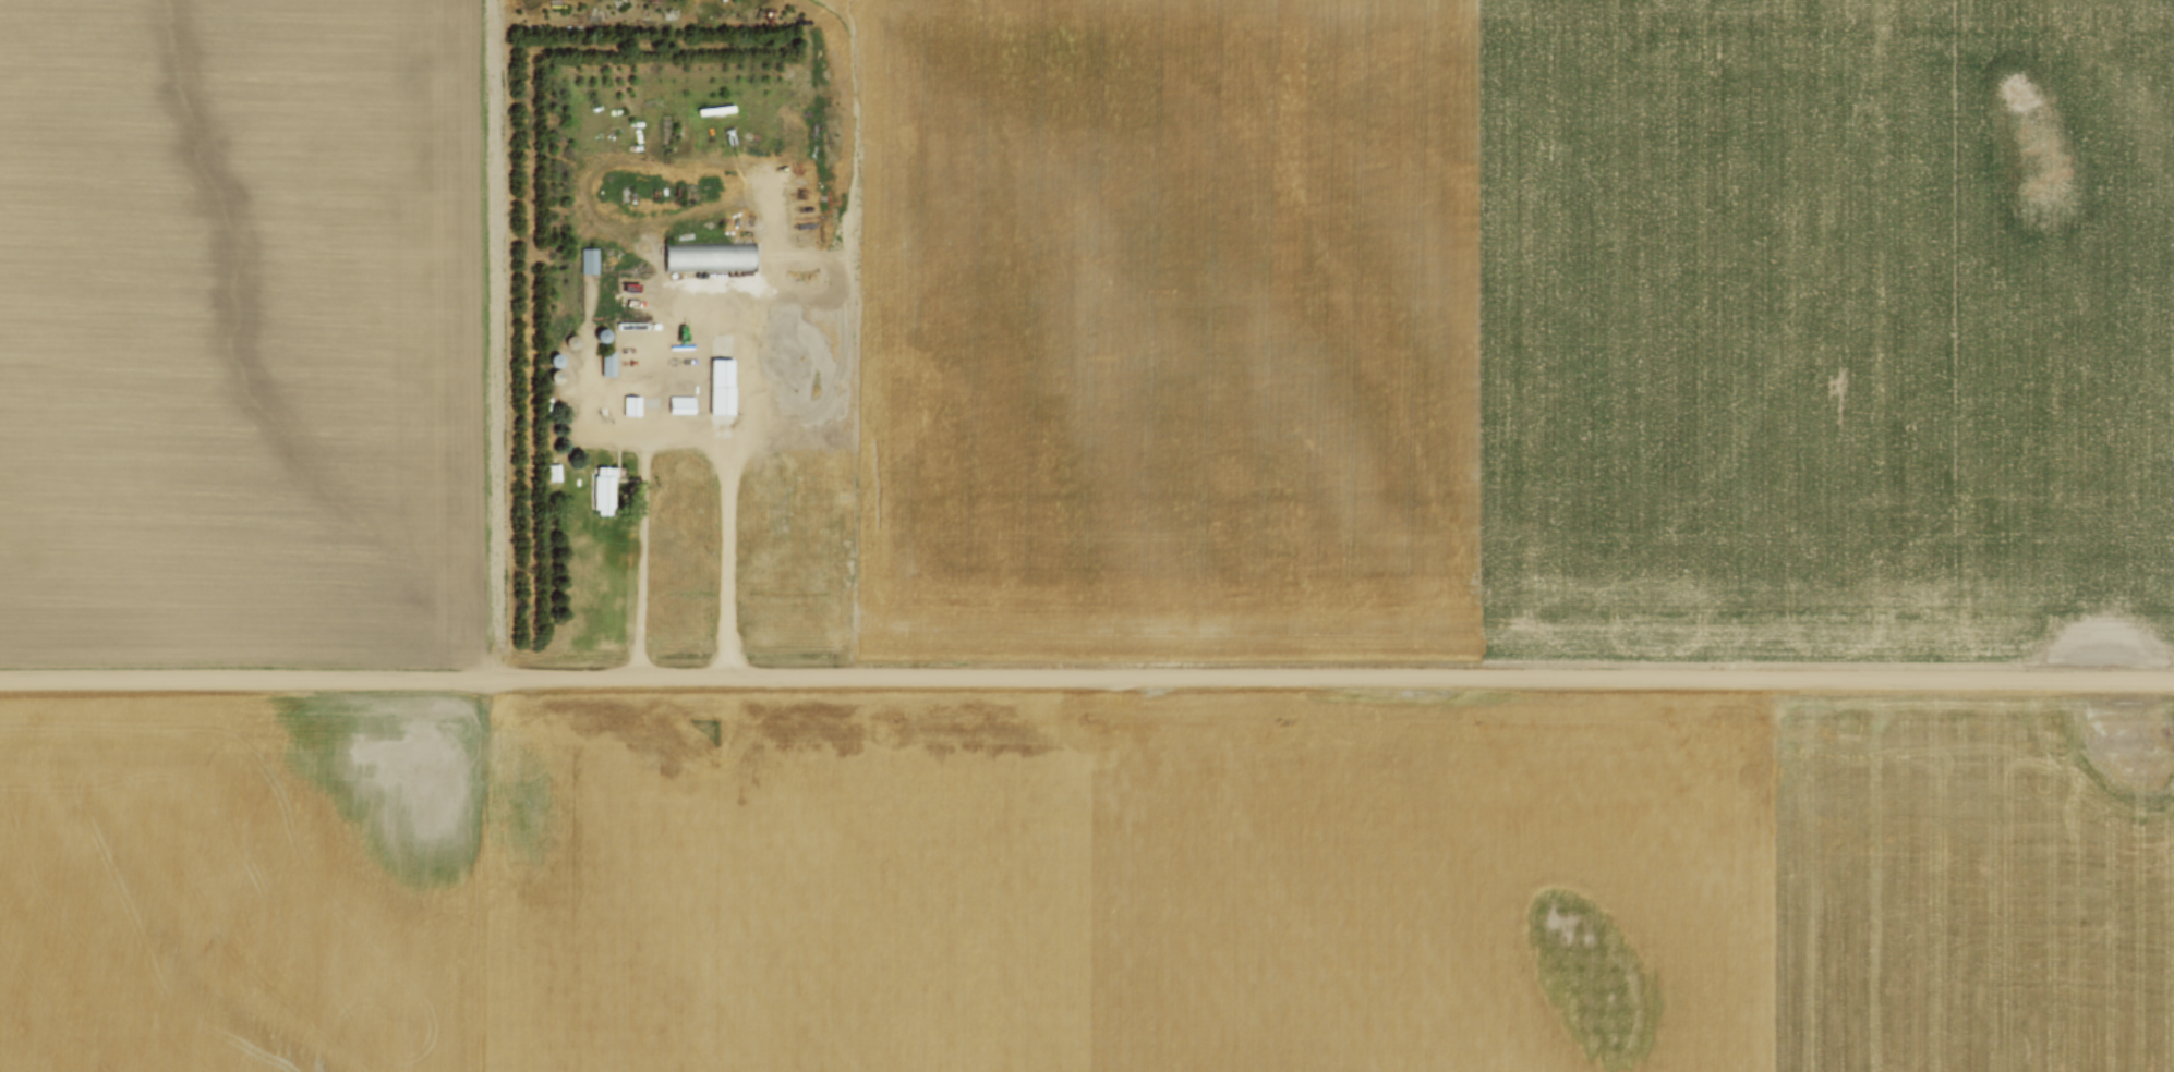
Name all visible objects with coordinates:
road: (725, 167)
building: (709, 257)
building: (589, 261)
crop: (253, 329)
crop: (1513, 329)
building: (604, 333)
silo: (604, 333)
building: (575, 341)
silo: (575, 341)
building: (557, 357)
silo: (557, 357)
building: (609, 361)
road: (629, 369)
building: (554, 377)
silo: (554, 377)
building: (724, 386)
building: (633, 404)
building: (685, 404)
road: (685, 440)
building: (554, 473)
building: (607, 488)
road: (1086, 680)
crop: (1087, 885)

